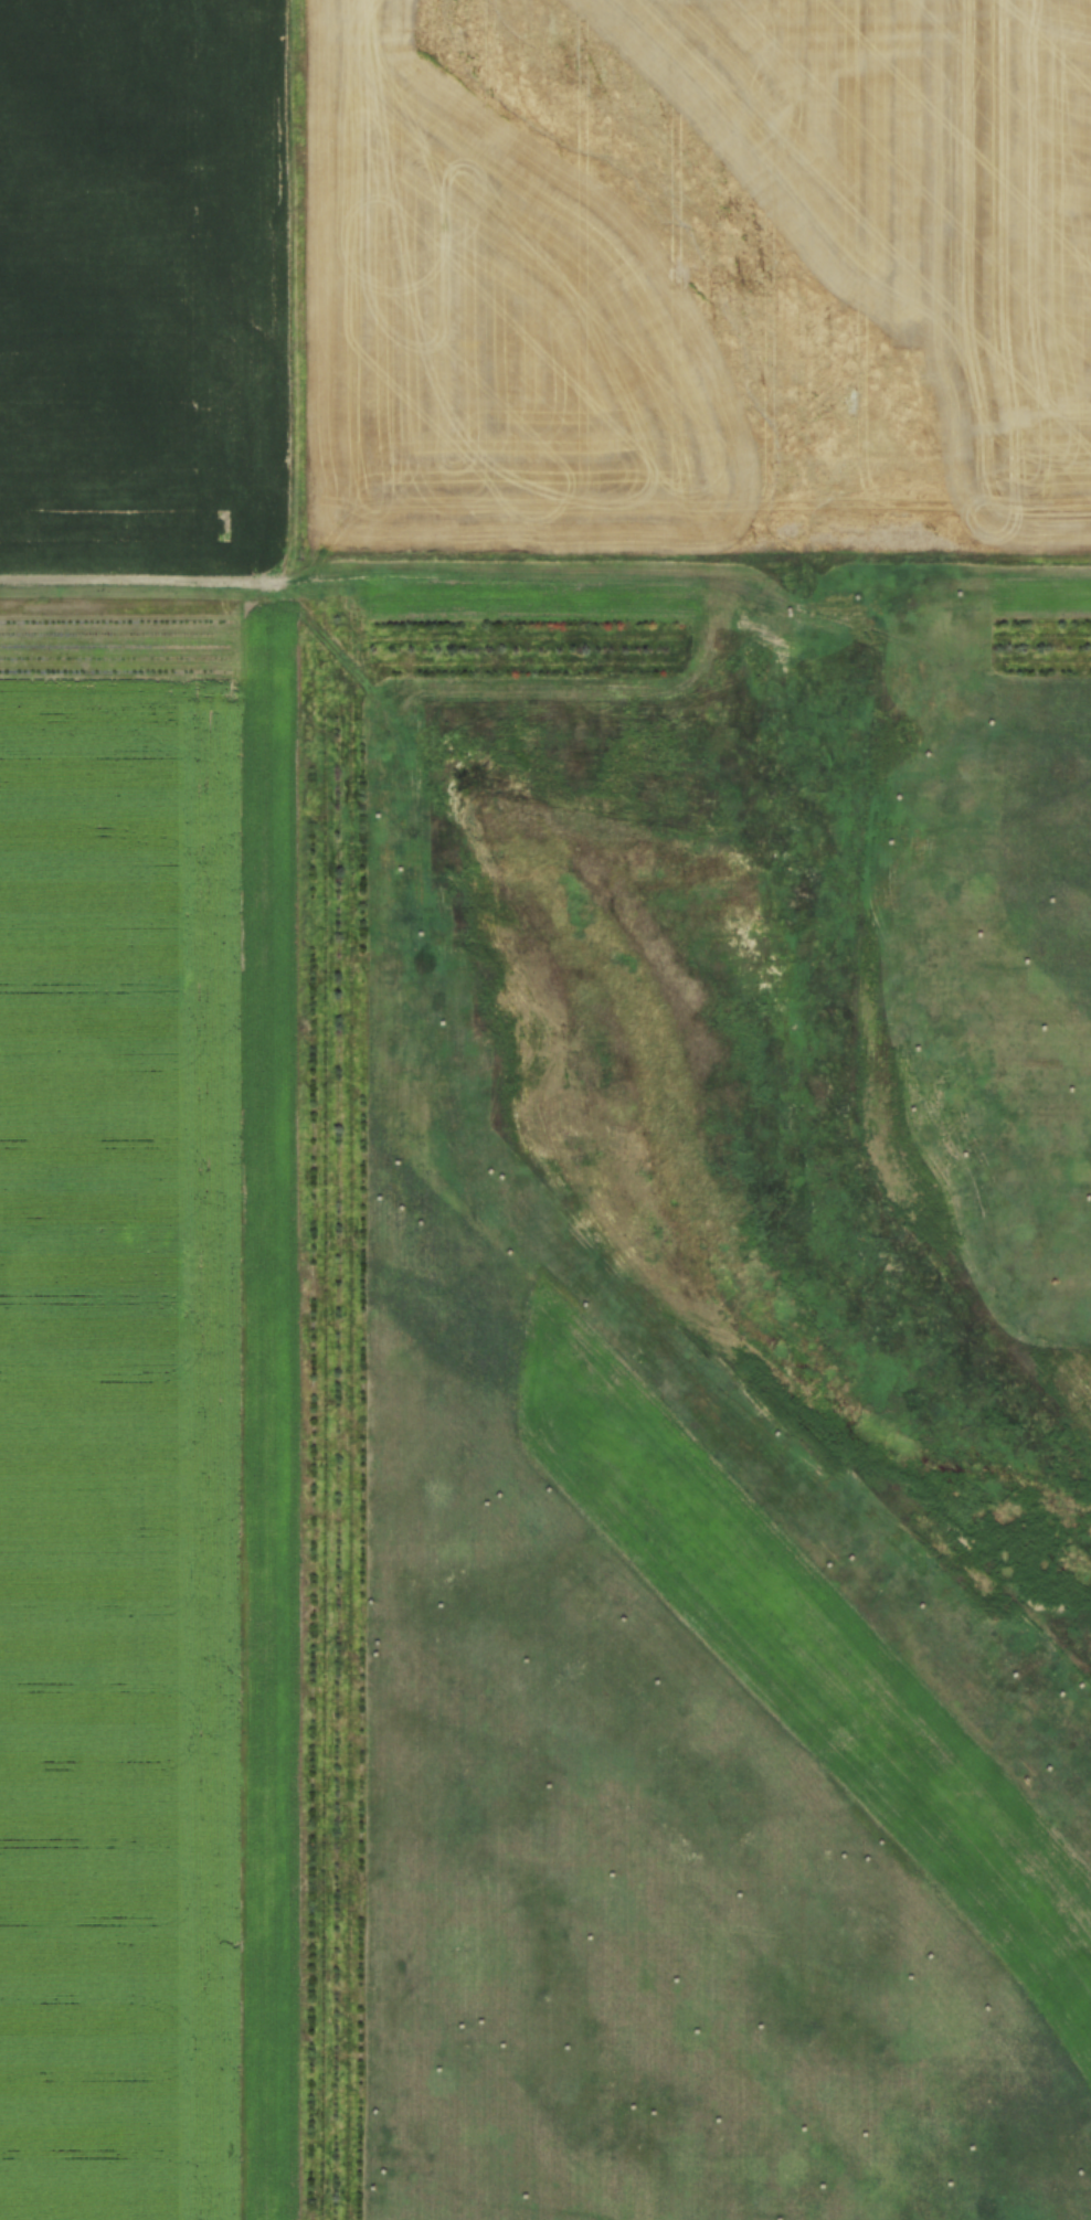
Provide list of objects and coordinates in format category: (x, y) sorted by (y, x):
crop: (139, 287)
crop: (115, 1446)

